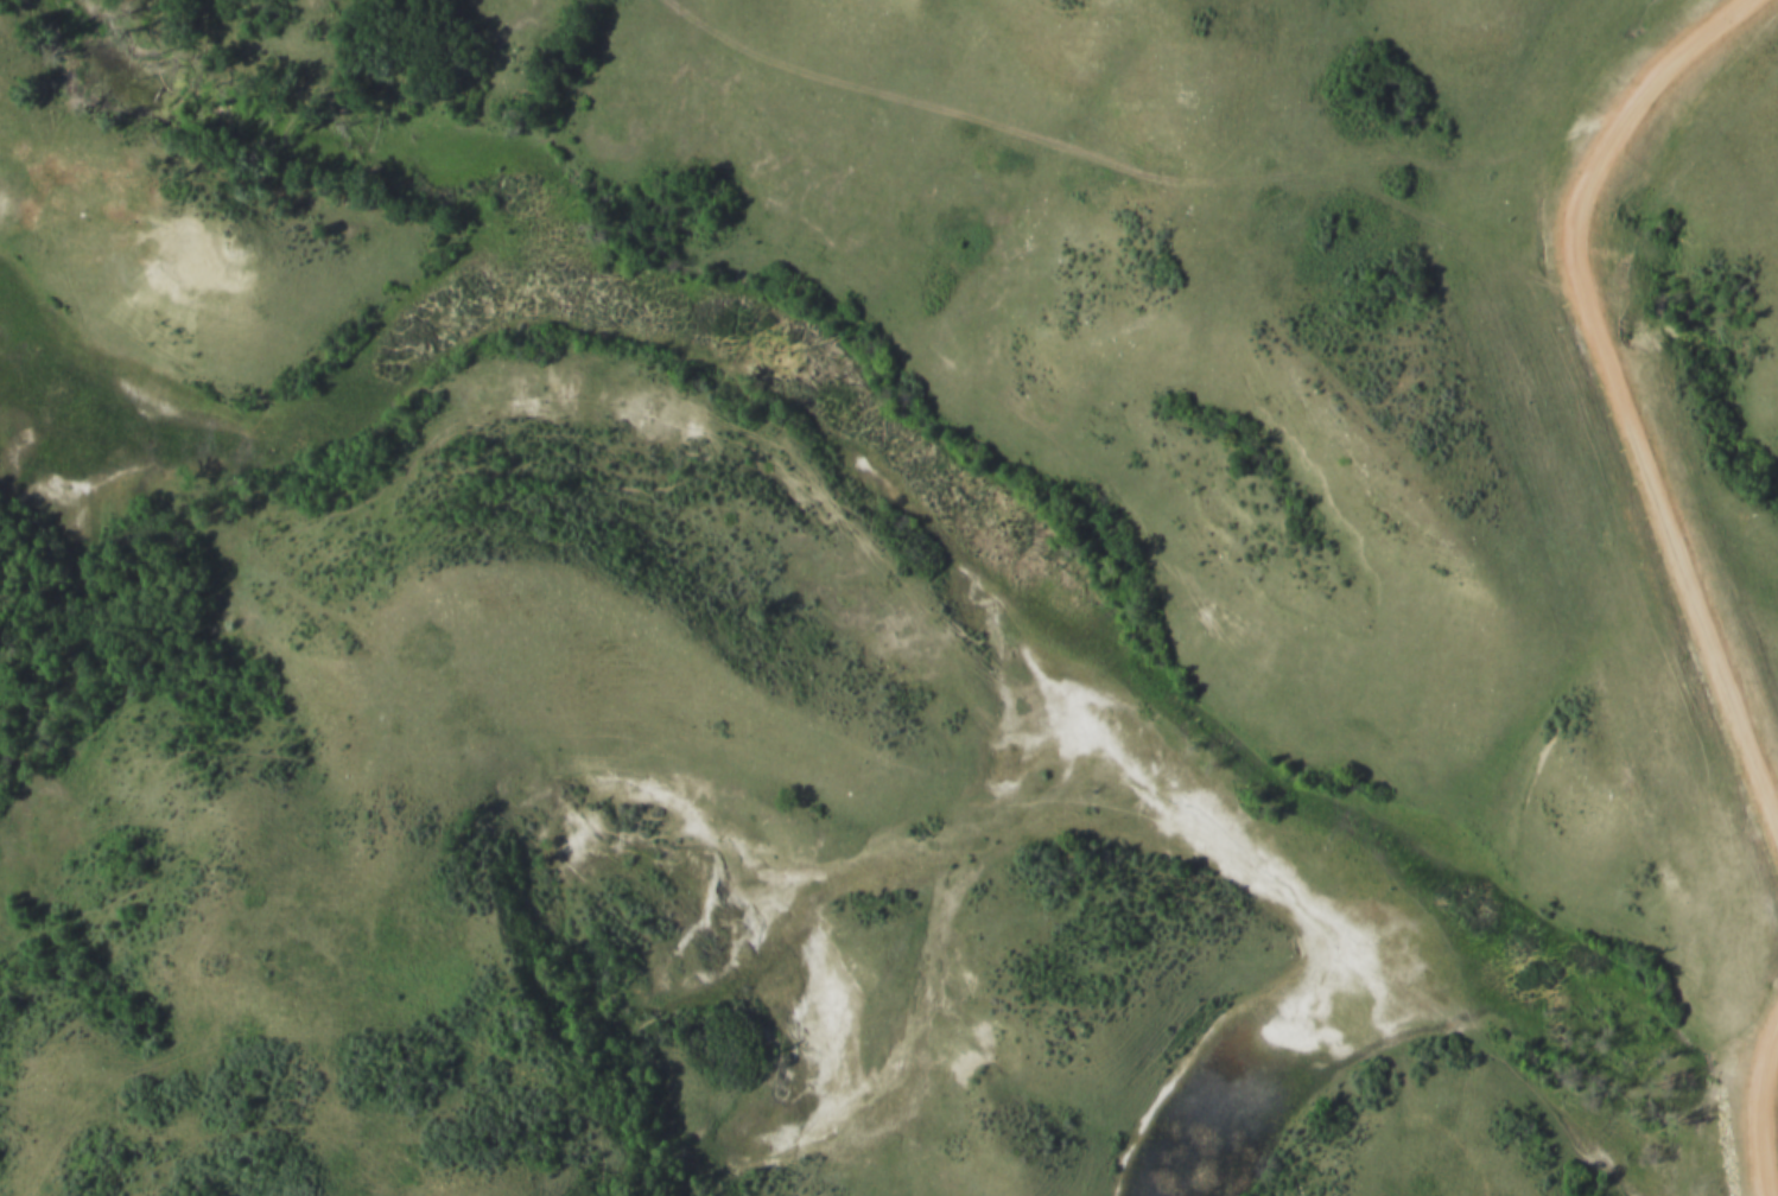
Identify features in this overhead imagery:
road: (1611, 401)
road: (1752, 1102)

